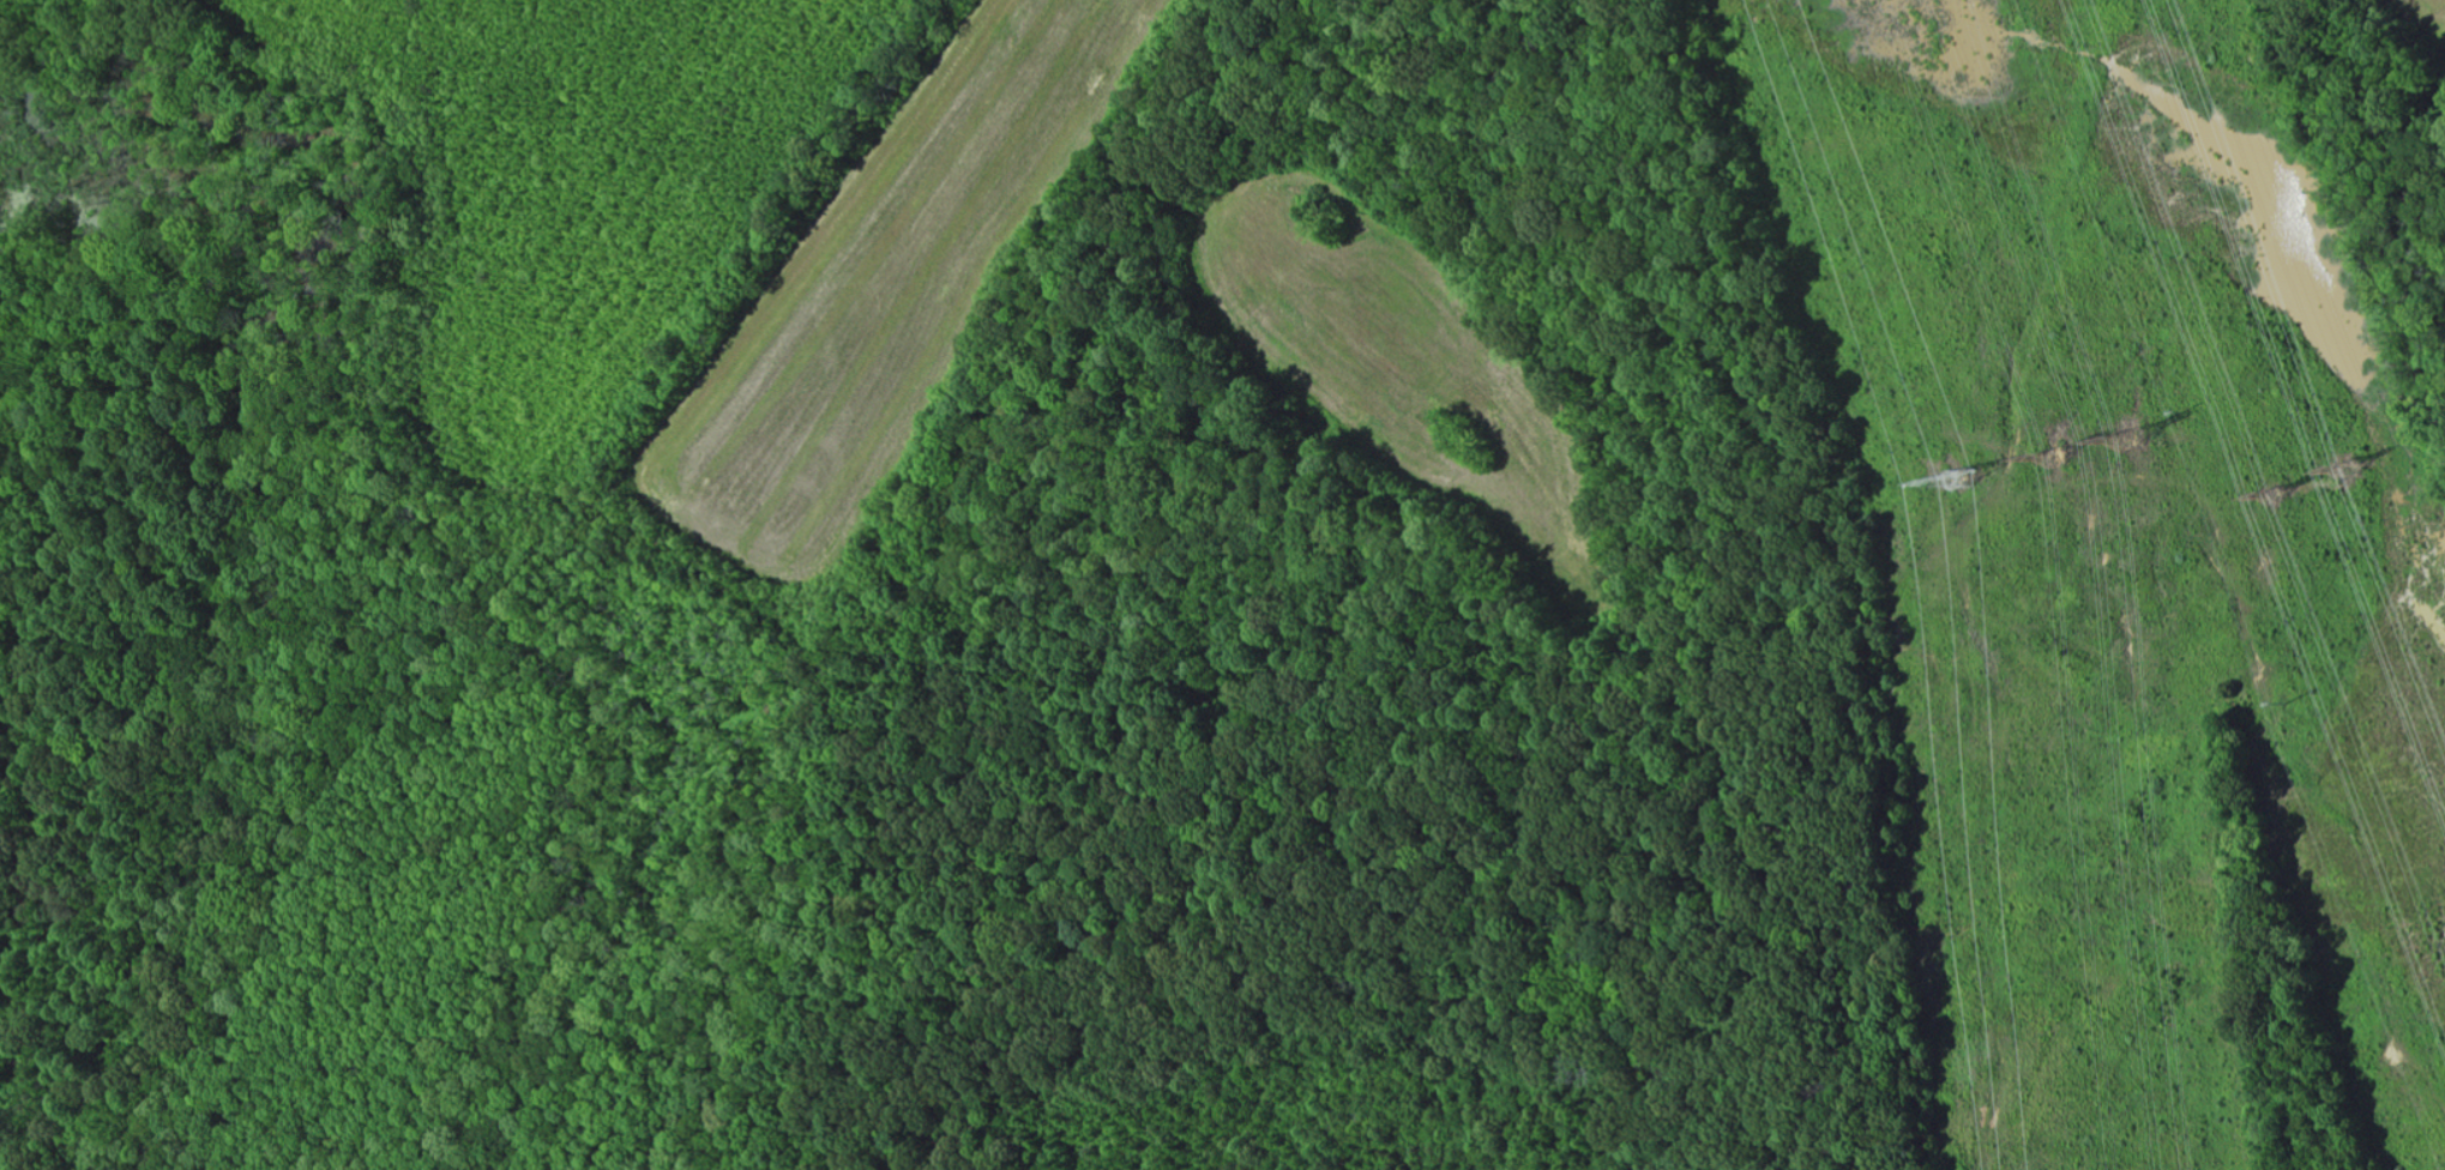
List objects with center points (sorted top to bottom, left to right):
power tower: (2052, 454)
power tower: (2341, 471)
power tower: (1956, 480)
power tower: (2272, 499)

